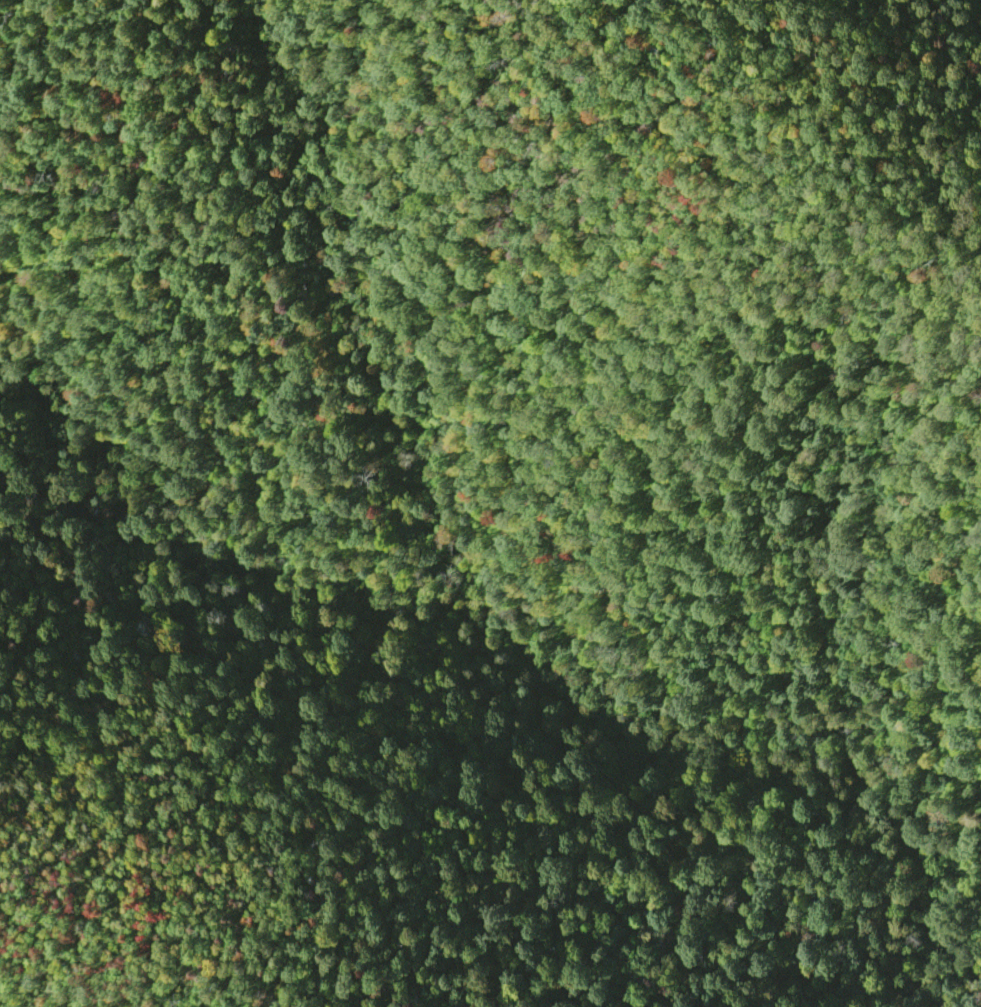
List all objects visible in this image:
road: (899, 871)

